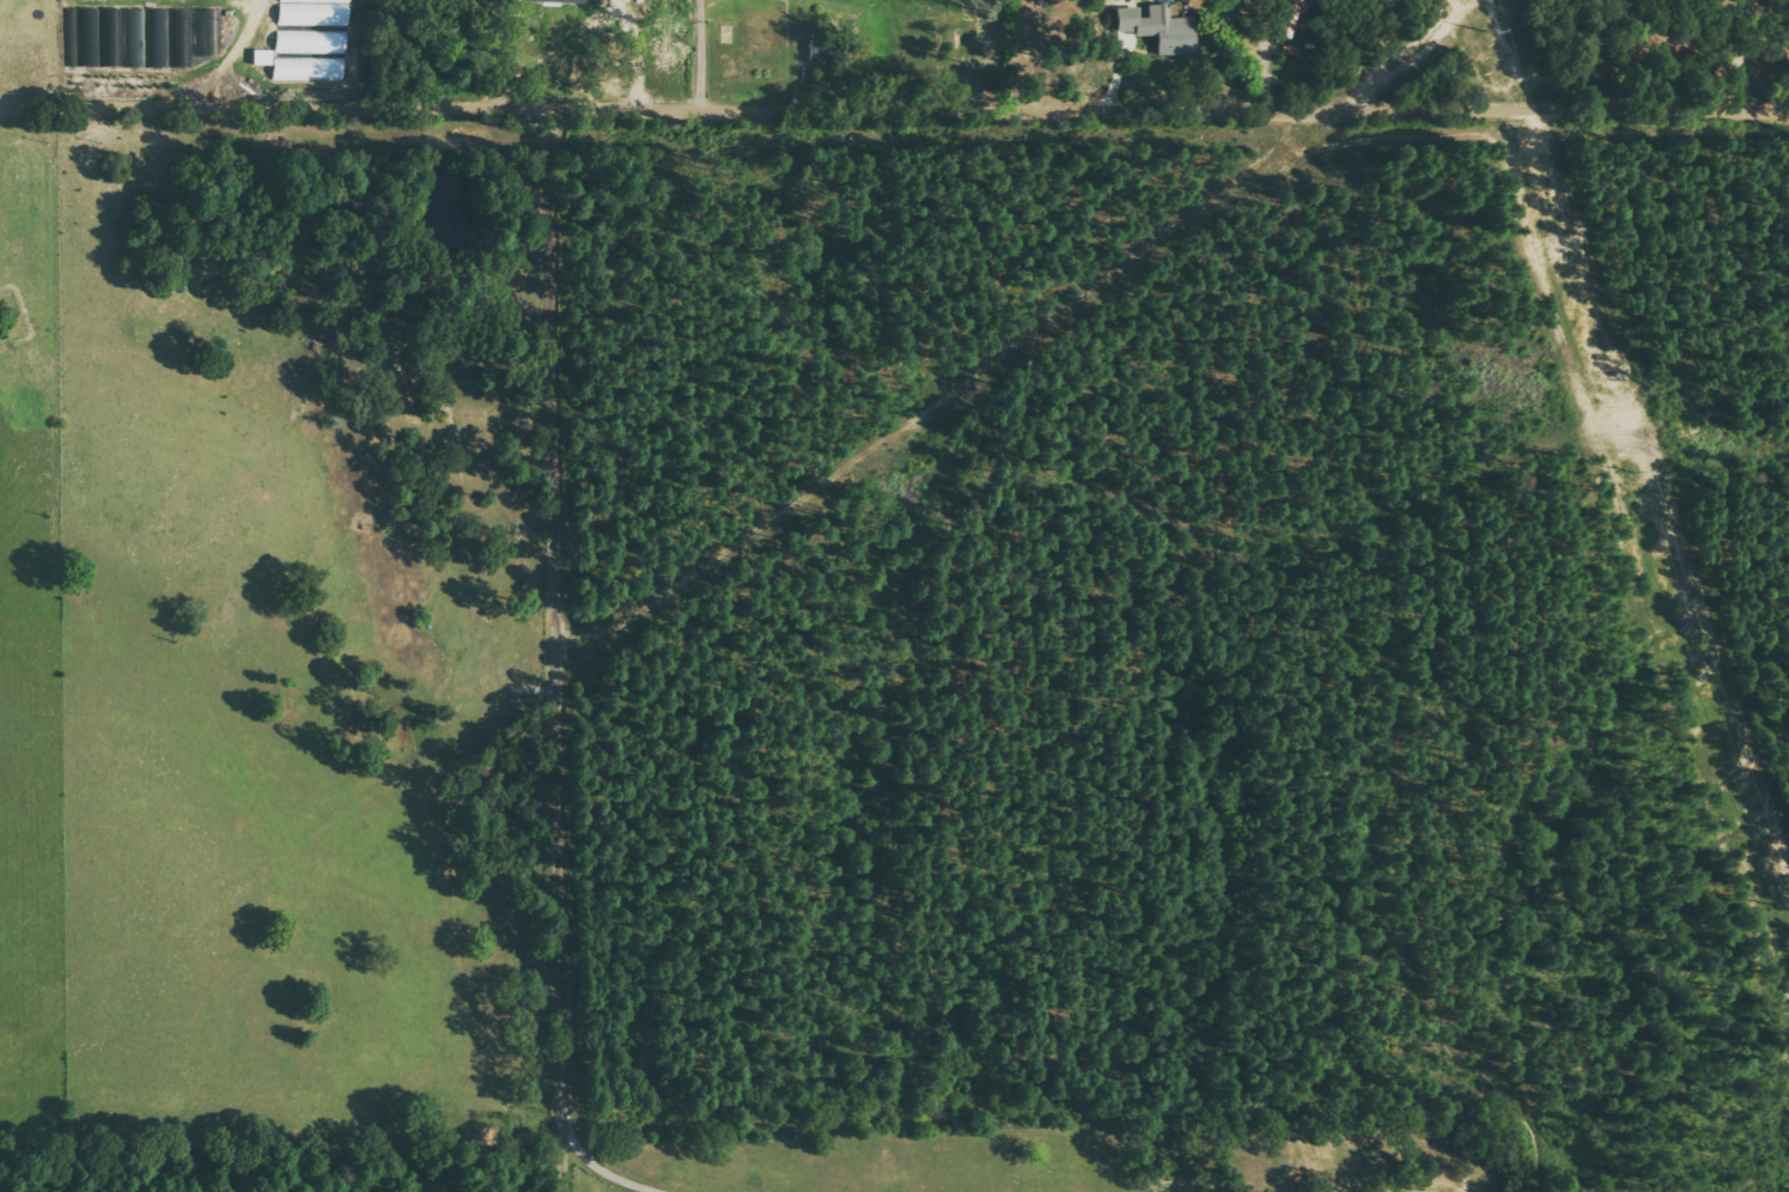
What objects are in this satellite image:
building: (568, 1)
building: (312, 12)
building: (1291, 16)
building: (1157, 29)
building: (135, 36)
building: (826, 51)
building: (258, 57)
building: (306, 71)
road: (894, 111)
road: (547, 651)

